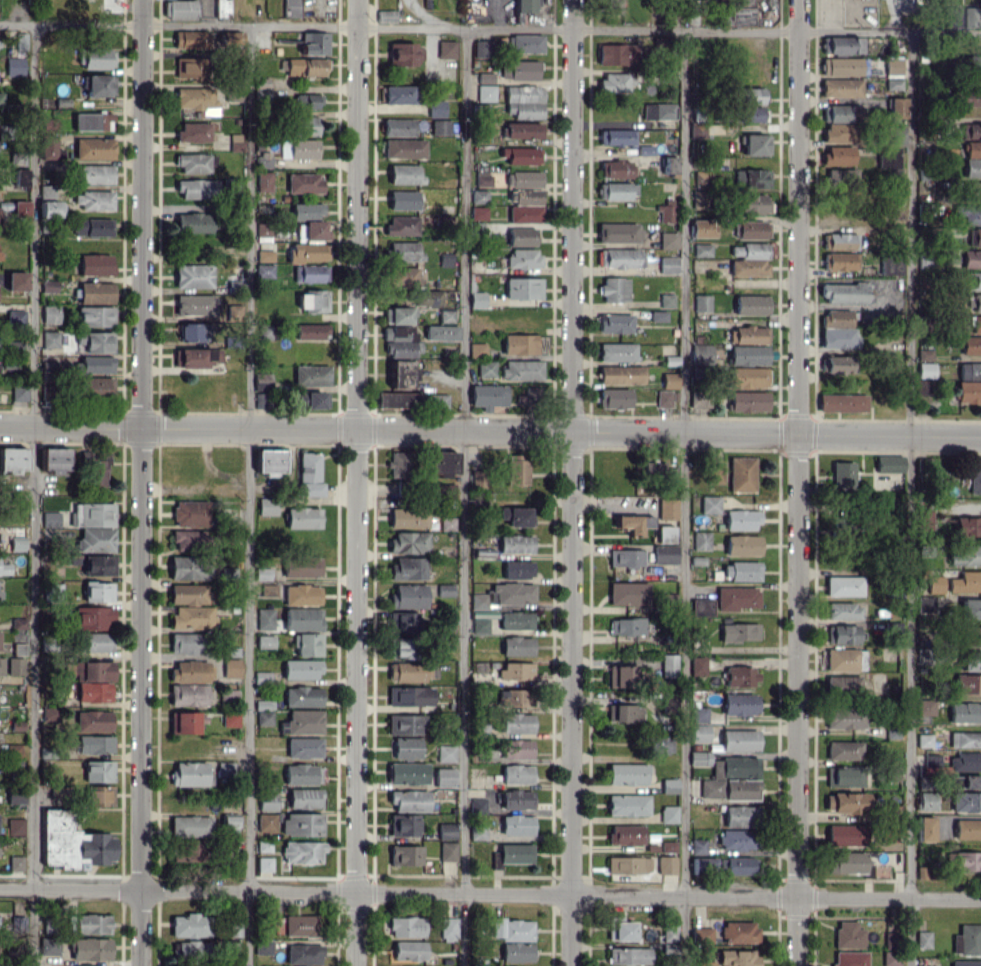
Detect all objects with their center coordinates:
building: (742, 1)
building: (523, 6)
building: (613, 6)
building: (222, 8)
building: (291, 8)
building: (180, 9)
building: (737, 15)
building: (952, 15)
road: (829, 16)
building: (970, 16)
road: (490, 29)
building: (230, 38)
building: (190, 39)
building: (20, 40)
building: (314, 43)
building: (525, 43)
building: (841, 45)
building: (482, 48)
building: (446, 49)
building: (403, 53)
building: (616, 54)
building: (96, 58)
building: (974, 63)
building: (14, 66)
building: (840, 66)
building: (894, 66)
building: (188, 67)
building: (306, 67)
building: (519, 69)
building: (485, 77)
building: (617, 80)
building: (99, 85)
building: (841, 87)
building: (234, 92)
building: (485, 92)
building: (399, 94)
building: (749, 95)
building: (968, 97)
building: (1, 98)
building: (194, 98)
building: (308, 101)
building: (524, 101)
building: (897, 107)
building: (436, 108)
building: (658, 111)
building: (837, 113)
building: (750, 114)
building: (92, 121)
building: (50, 124)
building: (305, 125)
building: (398, 127)
building: (440, 127)
building: (522, 130)
building: (970, 130)
building: (196, 131)
building: (838, 132)
building: (897, 135)
building: (616, 137)
building: (236, 142)
building: (755, 144)
building: (49, 147)
building: (93, 148)
building: (299, 148)
building: (404, 148)
building: (973, 149)
building: (521, 155)
building: (838, 155)
building: (889, 157)
building: (263, 159)
building: (193, 162)
building: (669, 164)
building: (972, 167)
building: (617, 169)
building: (93, 174)
building: (405, 174)
building: (21, 176)
building: (482, 177)
building: (841, 177)
building: (523, 178)
building: (751, 178)
building: (263, 181)
building: (304, 182)
building: (196, 188)
building: (614, 190)
building: (973, 191)
building: (46, 192)
building: (479, 196)
building: (93, 199)
building: (403, 199)
building: (699, 199)
building: (752, 203)
building: (525, 205)
building: (48, 208)
building: (20, 209)
building: (307, 211)
building: (665, 212)
building: (478, 213)
building: (969, 213)
building: (442, 220)
building: (193, 222)
building: (402, 225)
building: (92, 227)
building: (475, 227)
building: (702, 228)
building: (752, 229)
building: (312, 230)
building: (262, 231)
building: (618, 232)
building: (522, 236)
building: (974, 236)
building: (668, 240)
building: (839, 241)
building: (702, 249)
building: (403, 250)
building: (754, 250)
building: (309, 252)
building: (265, 255)
building: (523, 258)
building: (623, 258)
building: (446, 259)
building: (971, 259)
building: (840, 261)
building: (95, 264)
building: (668, 264)
building: (889, 266)
building: (748, 267)
building: (264, 270)
building: (310, 273)
building: (193, 276)
building: (405, 277)
building: (16, 280)
building: (976, 280)
building: (48, 286)
building: (523, 287)
building: (615, 289)
building: (95, 292)
building: (844, 292)
building: (427, 297)
building: (477, 299)
building: (667, 300)
building: (313, 301)
building: (977, 301)
building: (702, 302)
building: (194, 304)
building: (751, 305)
building: (50, 314)
building: (397, 315)
building: (446, 315)
building: (95, 316)
building: (658, 316)
building: (17, 317)
building: (615, 323)
building: (975, 324)
building: (838, 330)
building: (311, 331)
building: (194, 332)
building: (398, 332)
building: (441, 332)
building: (747, 335)
building: (49, 339)
building: (96, 341)
building: (520, 344)
building: (971, 345)
building: (401, 349)
building: (477, 350)
building: (617, 351)
building: (701, 354)
building: (924, 354)
building: (748, 355)
building: (194, 357)
building: (96, 364)
building: (835, 364)
building: (486, 368)
building: (925, 369)
building: (521, 370)
building: (969, 370)
building: (401, 373)
building: (621, 374)
building: (312, 376)
building: (748, 377)
building: (669, 380)
building: (262, 381)
building: (95, 387)
building: (921, 387)
building: (968, 391)
building: (48, 392)
building: (19, 393)
building: (536, 394)
building: (488, 395)
building: (614, 398)
building: (663, 398)
building: (309, 399)
building: (397, 399)
building: (262, 400)
building: (437, 400)
building: (748, 401)
building: (842, 402)
road: (490, 433)
building: (12, 459)
building: (54, 459)
building: (269, 461)
building: (443, 463)
building: (399, 464)
building: (888, 464)
building: (95, 468)
building: (654, 468)
building: (516, 471)
building: (309, 473)
building: (715, 473)
building: (843, 473)
building: (741, 474)
building: (975, 479)
road: (355, 482)
road: (796, 482)
road: (141, 483)
road: (571, 483)
road: (32, 494)
road: (247, 495)
road: (464, 497)
road: (684, 498)
road: (909, 499)
building: (709, 504)
building: (267, 506)
building: (667, 509)
building: (190, 513)
building: (97, 514)
building: (515, 515)
building: (303, 517)
building: (408, 517)
building: (55, 518)
building: (740, 519)
building: (446, 523)
building: (633, 523)
building: (967, 526)
building: (664, 534)
building: (96, 539)
building: (188, 539)
building: (700, 540)
building: (409, 542)
building: (515, 543)
building: (16, 545)
building: (742, 545)
building: (664, 554)
building: (964, 555)
building: (625, 557)
building: (99, 565)
building: (302, 566)
building: (188, 568)
building: (408, 568)
building: (4, 569)
building: (517, 569)
building: (740, 570)
building: (965, 581)
building: (935, 583)
building: (843, 586)
building: (444, 590)
building: (98, 591)
building: (513, 593)
building: (628, 593)
building: (188, 594)
building: (0, 595)
building: (302, 595)
building: (408, 596)
building: (735, 598)
building: (701, 607)
building: (970, 608)
building: (842, 610)
building: (478, 616)
building: (93, 617)
building: (193, 617)
building: (264, 617)
building: (302, 618)
building: (516, 620)
building: (18, 622)
building: (403, 622)
building: (626, 626)
building: (738, 632)
building: (841, 634)
building: (972, 636)
building: (95, 641)
building: (187, 643)
building: (307, 644)
building: (517, 645)
building: (401, 648)
building: (844, 659)
building: (970, 660)
building: (15, 665)
building: (668, 665)
building: (697, 665)
building: (1, 666)
building: (231, 667)
building: (301, 669)
building: (91, 670)
building: (516, 670)
building: (189, 671)
building: (406, 671)
building: (740, 675)
building: (620, 676)
building: (262, 677)
building: (967, 683)
building: (842, 684)
building: (93, 691)
building: (188, 694)
building: (228, 696)
building: (302, 696)
building: (410, 696)
building: (513, 697)
building: (739, 704)
building: (264, 705)
building: (924, 706)
building: (624, 712)
building: (964, 712)
building: (50, 713)
building: (698, 714)
building: (844, 717)
building: (264, 718)
building: (230, 719)
building: (93, 720)
building: (304, 721)
building: (184, 722)
building: (517, 722)
building: (405, 724)
building: (699, 733)
building: (965, 739)
building: (739, 740)
building: (923, 740)
building: (94, 744)
building: (660, 744)
building: (303, 747)
building: (407, 748)
building: (517, 748)
building: (843, 750)
building: (14, 752)
building: (445, 753)
building: (699, 758)
building: (930, 760)
building: (965, 761)
building: (734, 767)
building: (225, 770)
building: (98, 771)
building: (189, 773)
building: (407, 773)
building: (626, 773)
building: (303, 774)
building: (517, 774)
building: (892, 774)
building: (844, 776)
building: (444, 777)
building: (965, 781)
building: (669, 785)
building: (710, 788)
building: (740, 789)
building: (60, 791)
building: (15, 795)
building: (99, 795)
building: (304, 797)
building: (517, 799)
building: (409, 800)
building: (926, 800)
building: (267, 801)
building: (965, 801)
building: (845, 803)
building: (627, 805)
building: (477, 806)
building: (668, 813)
building: (738, 816)
building: (265, 822)
building: (229, 823)
building: (302, 824)
building: (403, 824)
building: (517, 824)
building: (190, 825)
building: (14, 826)
building: (924, 828)
building: (967, 829)
building: (446, 830)
building: (477, 831)
building: (625, 834)
building: (843, 834)
building: (736, 839)
building: (71, 842)
building: (668, 846)
building: (698, 846)
building: (447, 851)
building: (186, 852)
building: (302, 852)
building: (405, 854)
building: (512, 854)
building: (967, 860)
building: (15, 863)
building: (847, 863)
building: (264, 864)
building: (628, 865)
building: (666, 865)
building: (703, 865)
building: (737, 865)
road: (490, 893)
building: (91, 923)
building: (189, 925)
building: (294, 925)
building: (405, 926)
building: (447, 927)
building: (511, 929)
building: (621, 930)
building: (737, 932)
building: (669, 933)
building: (701, 934)
building: (847, 934)
building: (922, 939)
building: (967, 940)
building: (261, 947)
building: (90, 948)
building: (408, 950)
building: (188, 951)
building: (516, 951)
building: (303, 953)
building: (628, 956)
building: (737, 957)
building: (849, 958)
building: (890, 958)
building: (705, 963)
building: (965, 963)
building: (89, 965)
building: (930, 965)

